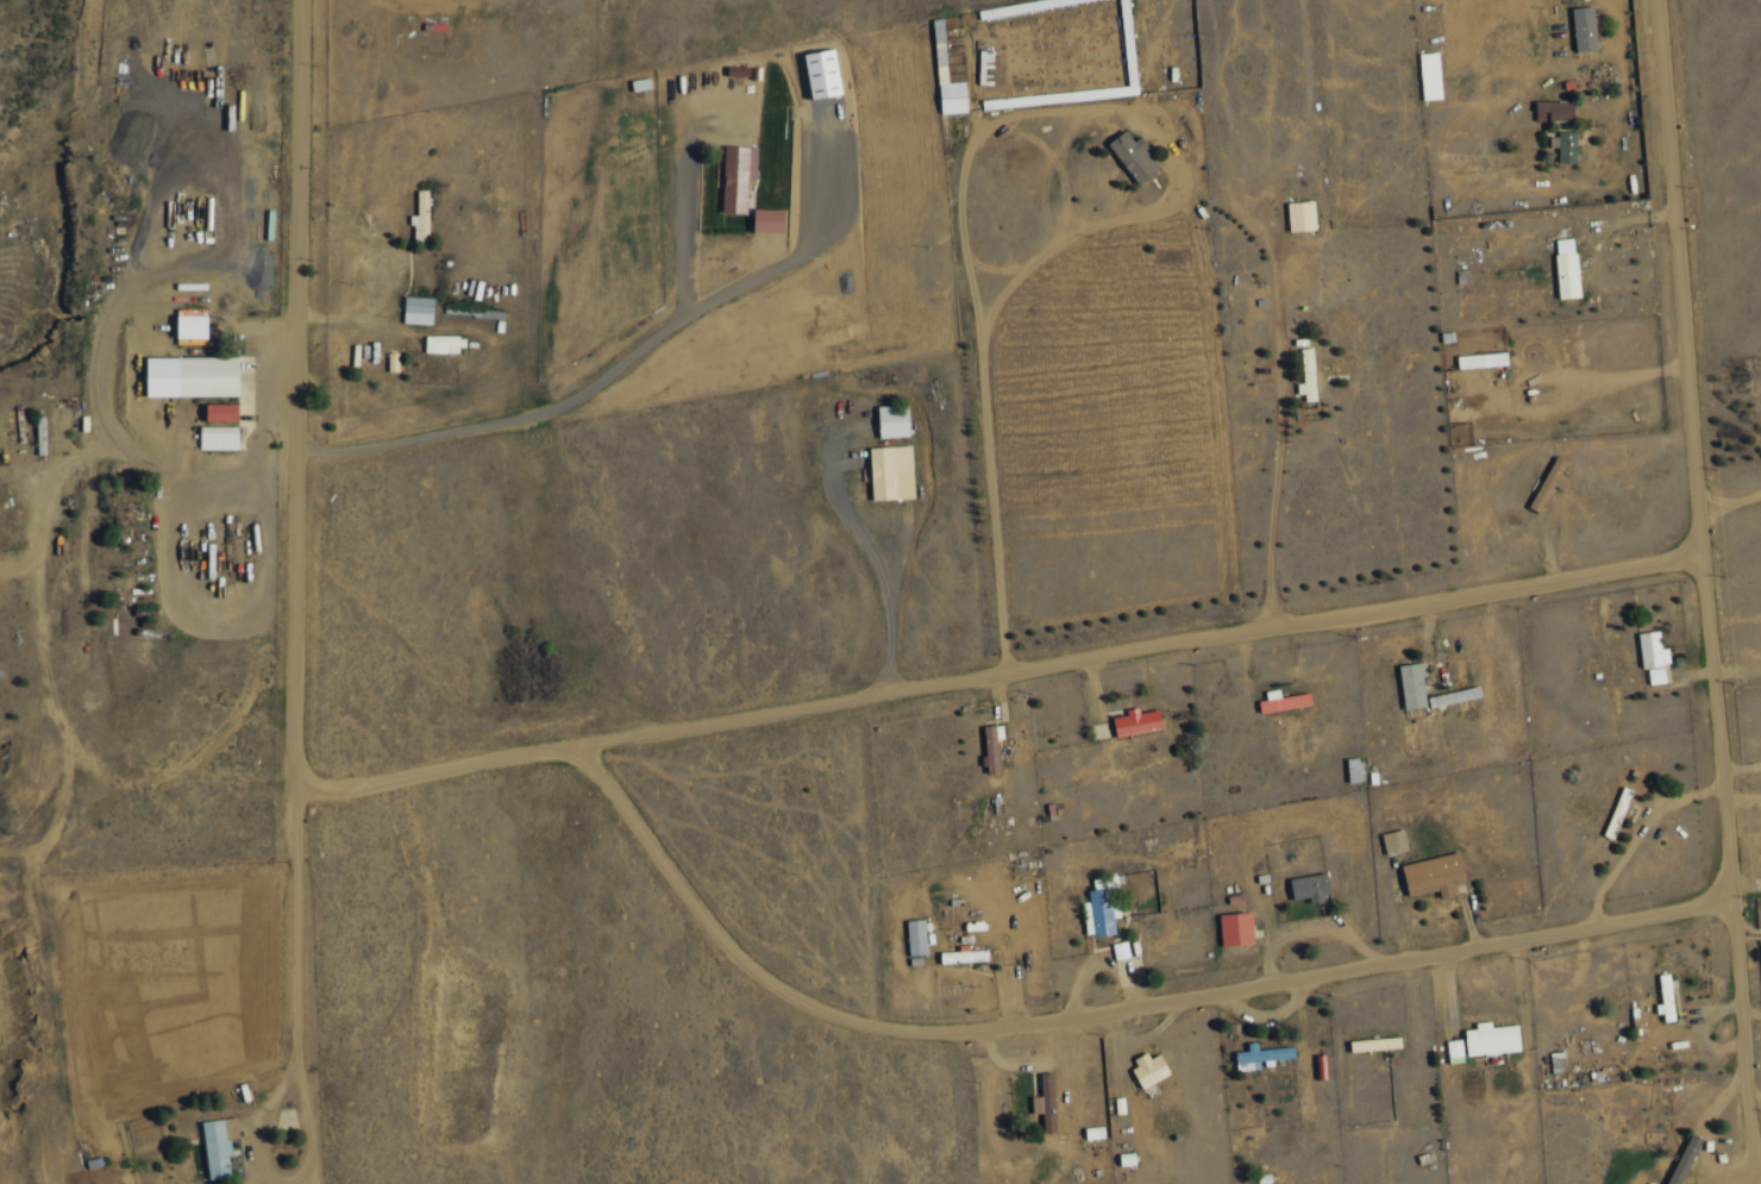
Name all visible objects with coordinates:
building: (1585, 29)
building: (822, 74)
building: (1430, 75)
road: (871, 86)
building: (953, 98)
building: (1554, 111)
building: (1565, 146)
building: (1134, 156)
building: (737, 177)
building: (1302, 215)
building: (767, 220)
building: (1567, 268)
road: (388, 272)
building: (418, 309)
building: (192, 327)
building: (441, 344)
building: (1481, 361)
road: (127, 375)
building: (192, 376)
building: (1308, 376)
road: (569, 401)
building: (221, 412)
building: (892, 421)
building: (219, 438)
building: (891, 472)
building: (1550, 483)
road: (1283, 493)
road: (1732, 493)
road: (300, 531)
road: (890, 583)
road: (1713, 583)
building: (1653, 650)
road: (1742, 670)
road: (1003, 671)
building: (1656, 675)
building: (1414, 684)
building: (1283, 701)
building: (1138, 721)
building: (991, 746)
road: (1747, 798)
building: (1395, 841)
building: (1434, 873)
road: (1749, 879)
building: (1310, 887)
building: (1101, 907)
road: (1315, 922)
building: (1236, 928)
road: (1749, 933)
building: (916, 936)
building: (1121, 950)
building: (972, 956)
building: (1667, 997)
road: (1096, 1010)
road: (1756, 1014)
road: (1422, 1019)
building: (1492, 1039)
building: (1454, 1047)
building: (1260, 1054)
building: (1149, 1069)
road: (1757, 1098)
building: (1046, 1102)
road: (1703, 1136)
road: (1759, 1138)
building: (219, 1146)
building: (1675, 1155)
road: (284, 1176)

